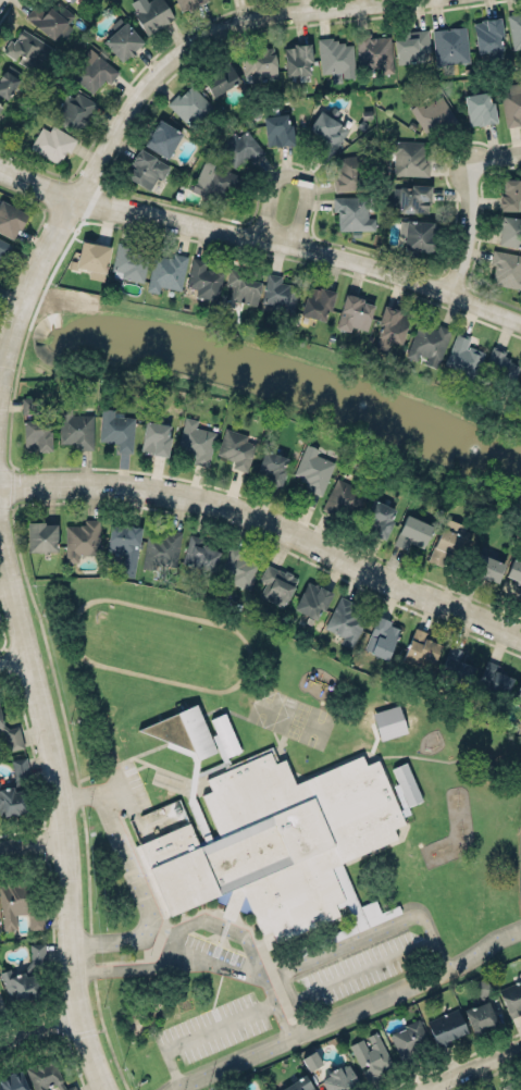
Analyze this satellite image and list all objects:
building: (70, 0)
building: (187, 3)
building: (152, 14)
building: (51, 20)
building: (514, 30)
building: (488, 34)
building: (123, 40)
road: (200, 41)
building: (450, 45)
building: (411, 46)
building: (24, 48)
building: (375, 51)
building: (336, 55)
building: (298, 59)
building: (259, 63)
building: (94, 71)
building: (220, 77)
building: (9, 80)
building: (512, 103)
building: (1, 107)
building: (193, 108)
building: (480, 108)
building: (73, 110)
building: (432, 113)
building: (277, 129)
building: (328, 129)
building: (163, 138)
building: (53, 141)
building: (239, 148)
building: (409, 157)
building: (147, 168)
road: (293, 173)
building: (347, 173)
building: (214, 182)
building: (510, 195)
building: (414, 198)
road: (468, 201)
building: (352, 212)
building: (11, 219)
building: (510, 231)
building: (417, 234)
road: (262, 236)
building: (2, 246)
building: (92, 258)
building: (129, 261)
building: (507, 268)
building: (165, 271)
building: (203, 278)
building: (244, 284)
road: (28, 285)
building: (280, 293)
building: (318, 302)
building: (355, 313)
building: (390, 327)
building: (427, 342)
building: (463, 352)
building: (500, 364)
building: (519, 388)
building: (30, 405)
building: (76, 429)
building: (116, 429)
building: (36, 434)
building: (156, 437)
building: (196, 441)
building: (236, 447)
building: (271, 468)
building: (313, 468)
building: (344, 497)
building: (377, 518)
road: (270, 521)
building: (412, 532)
building: (41, 536)
building: (82, 540)
building: (445, 545)
building: (125, 546)
building: (161, 548)
building: (237, 568)
building: (487, 568)
building: (514, 570)
building: (276, 584)
building: (519, 593)
building: (312, 599)
building: (346, 621)
building: (382, 637)
building: (422, 648)
road: (14, 659)
building: (456, 666)
building: (494, 678)
building: (519, 691)
building: (520, 720)
building: (388, 721)
building: (184, 731)
building: (223, 735)
building: (11, 736)
building: (484, 766)
road: (119, 776)
building: (196, 782)
building: (405, 786)
parking lot: (129, 788)
building: (14, 789)
road: (126, 794)
road: (63, 814)
road: (32, 841)
building: (274, 841)
road: (135, 878)
building: (16, 906)
building: (352, 911)
building: (228, 912)
road: (214, 921)
road: (349, 942)
parking lot: (212, 955)
road: (201, 962)
parking lot: (361, 968)
road: (363, 968)
building: (25, 975)
building: (481, 987)
building: (511, 998)
road: (349, 1012)
building: (480, 1015)
building: (446, 1025)
road: (39, 1027)
parking lot: (212, 1027)
road: (200, 1033)
building: (409, 1039)
building: (370, 1055)
building: (311, 1061)
road: (473, 1068)
building: (46, 1074)
building: (337, 1077)
building: (13, 1080)
building: (299, 1085)
building: (510, 1086)
building: (488, 1089)

